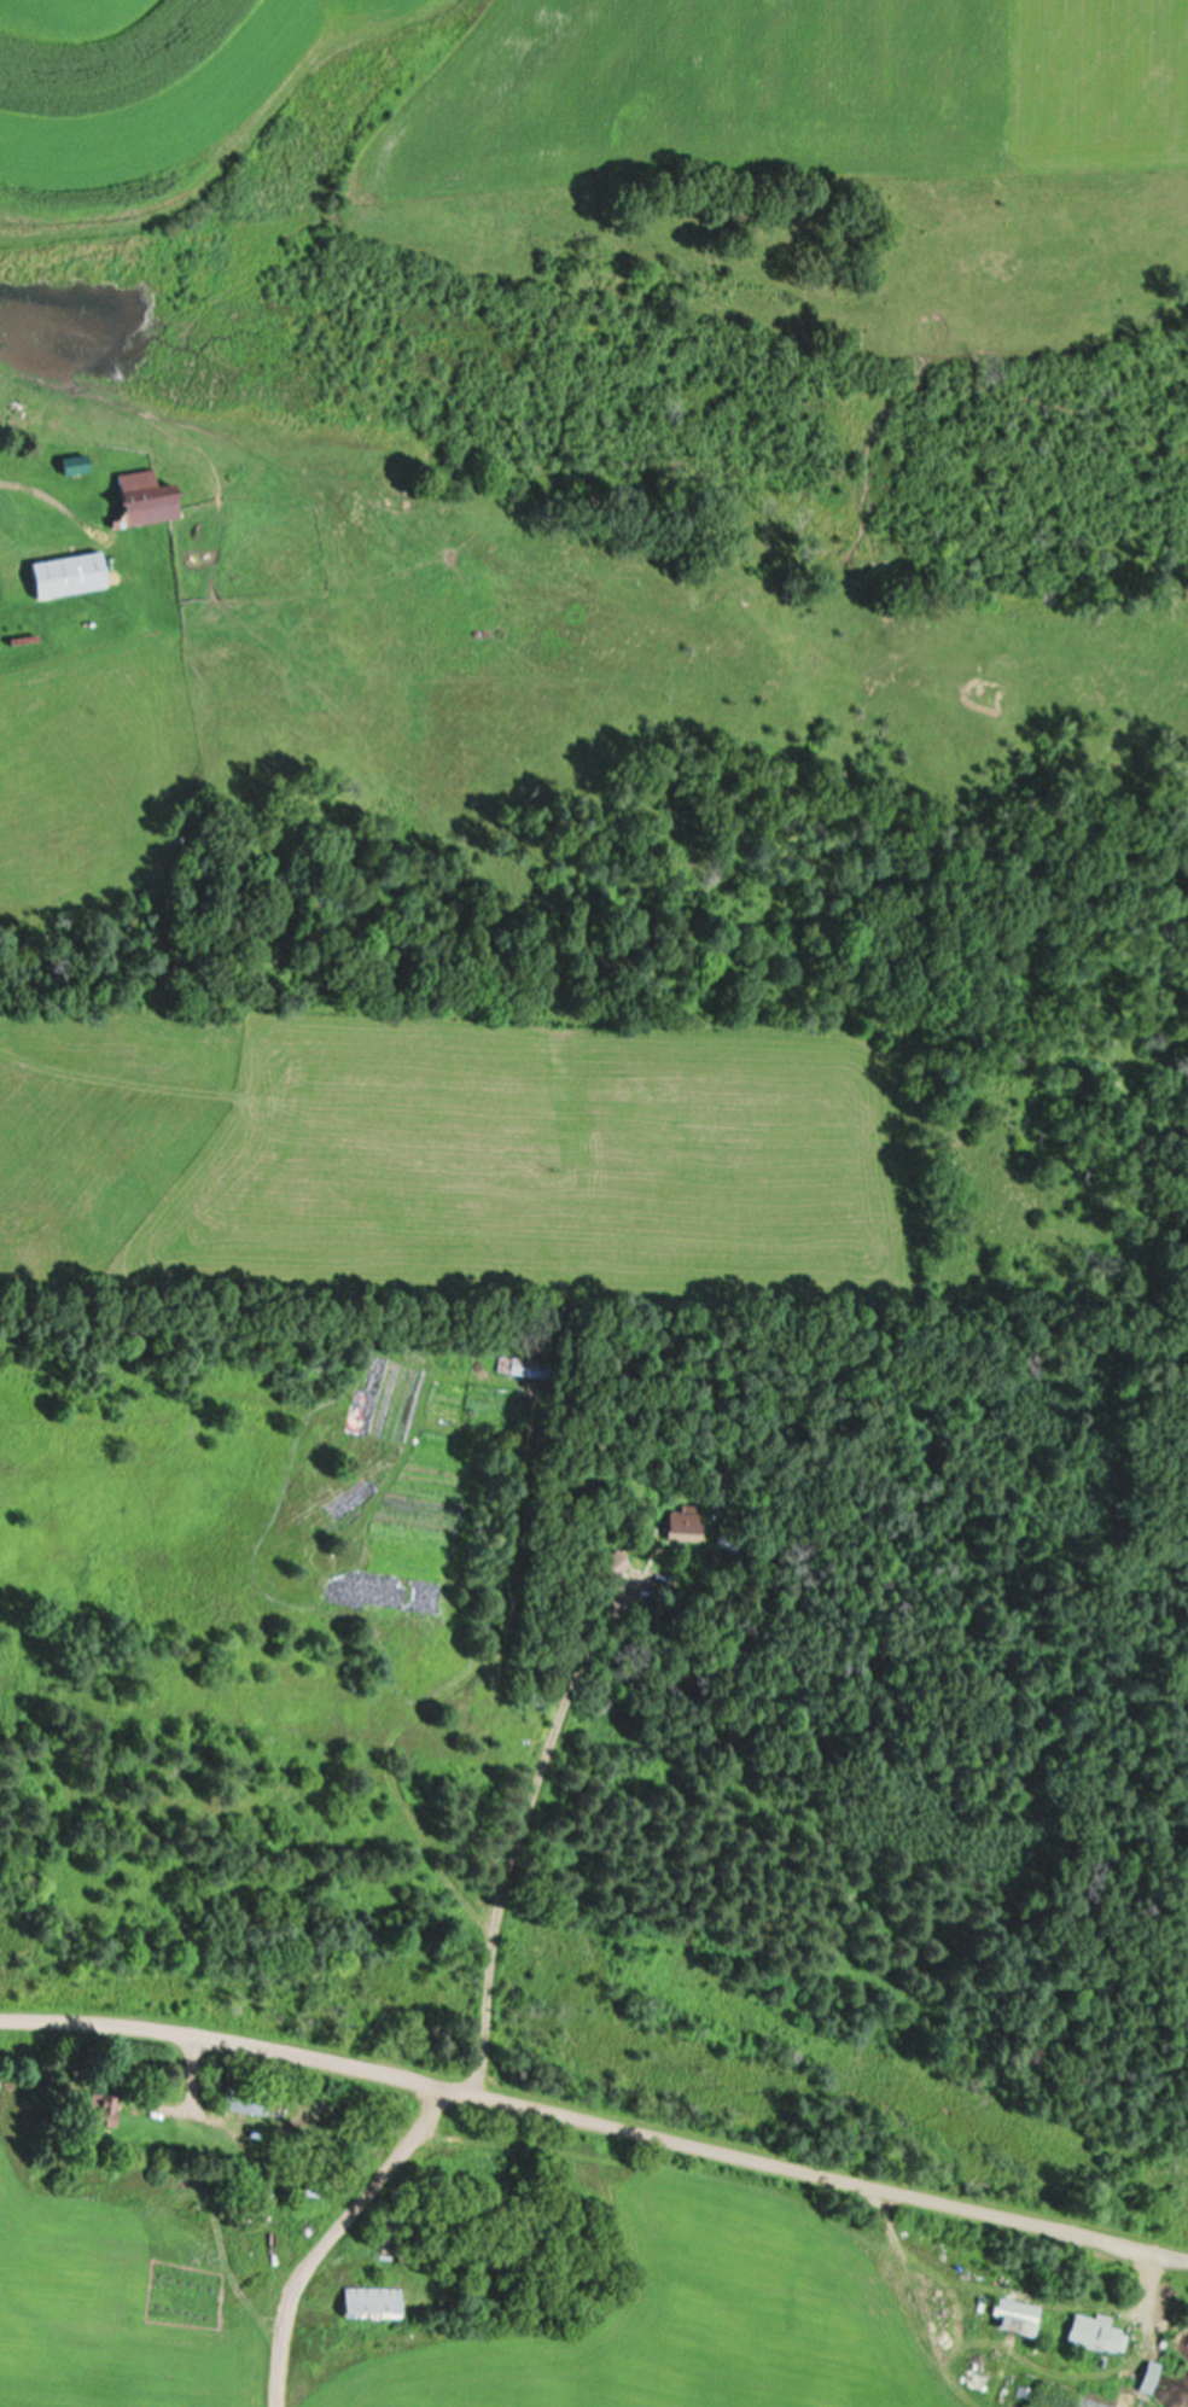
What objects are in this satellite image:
building: (72, 465)
road: (36, 485)
building: (144, 497)
building: (68, 573)
building: (519, 1365)
building: (685, 1522)
building: (615, 1563)
road: (513, 1860)
building: (245, 2098)
building: (98, 2109)
road: (595, 2118)
building: (313, 2190)
road: (327, 2232)
building: (369, 2302)
building: (1013, 2316)
building: (1093, 2331)

